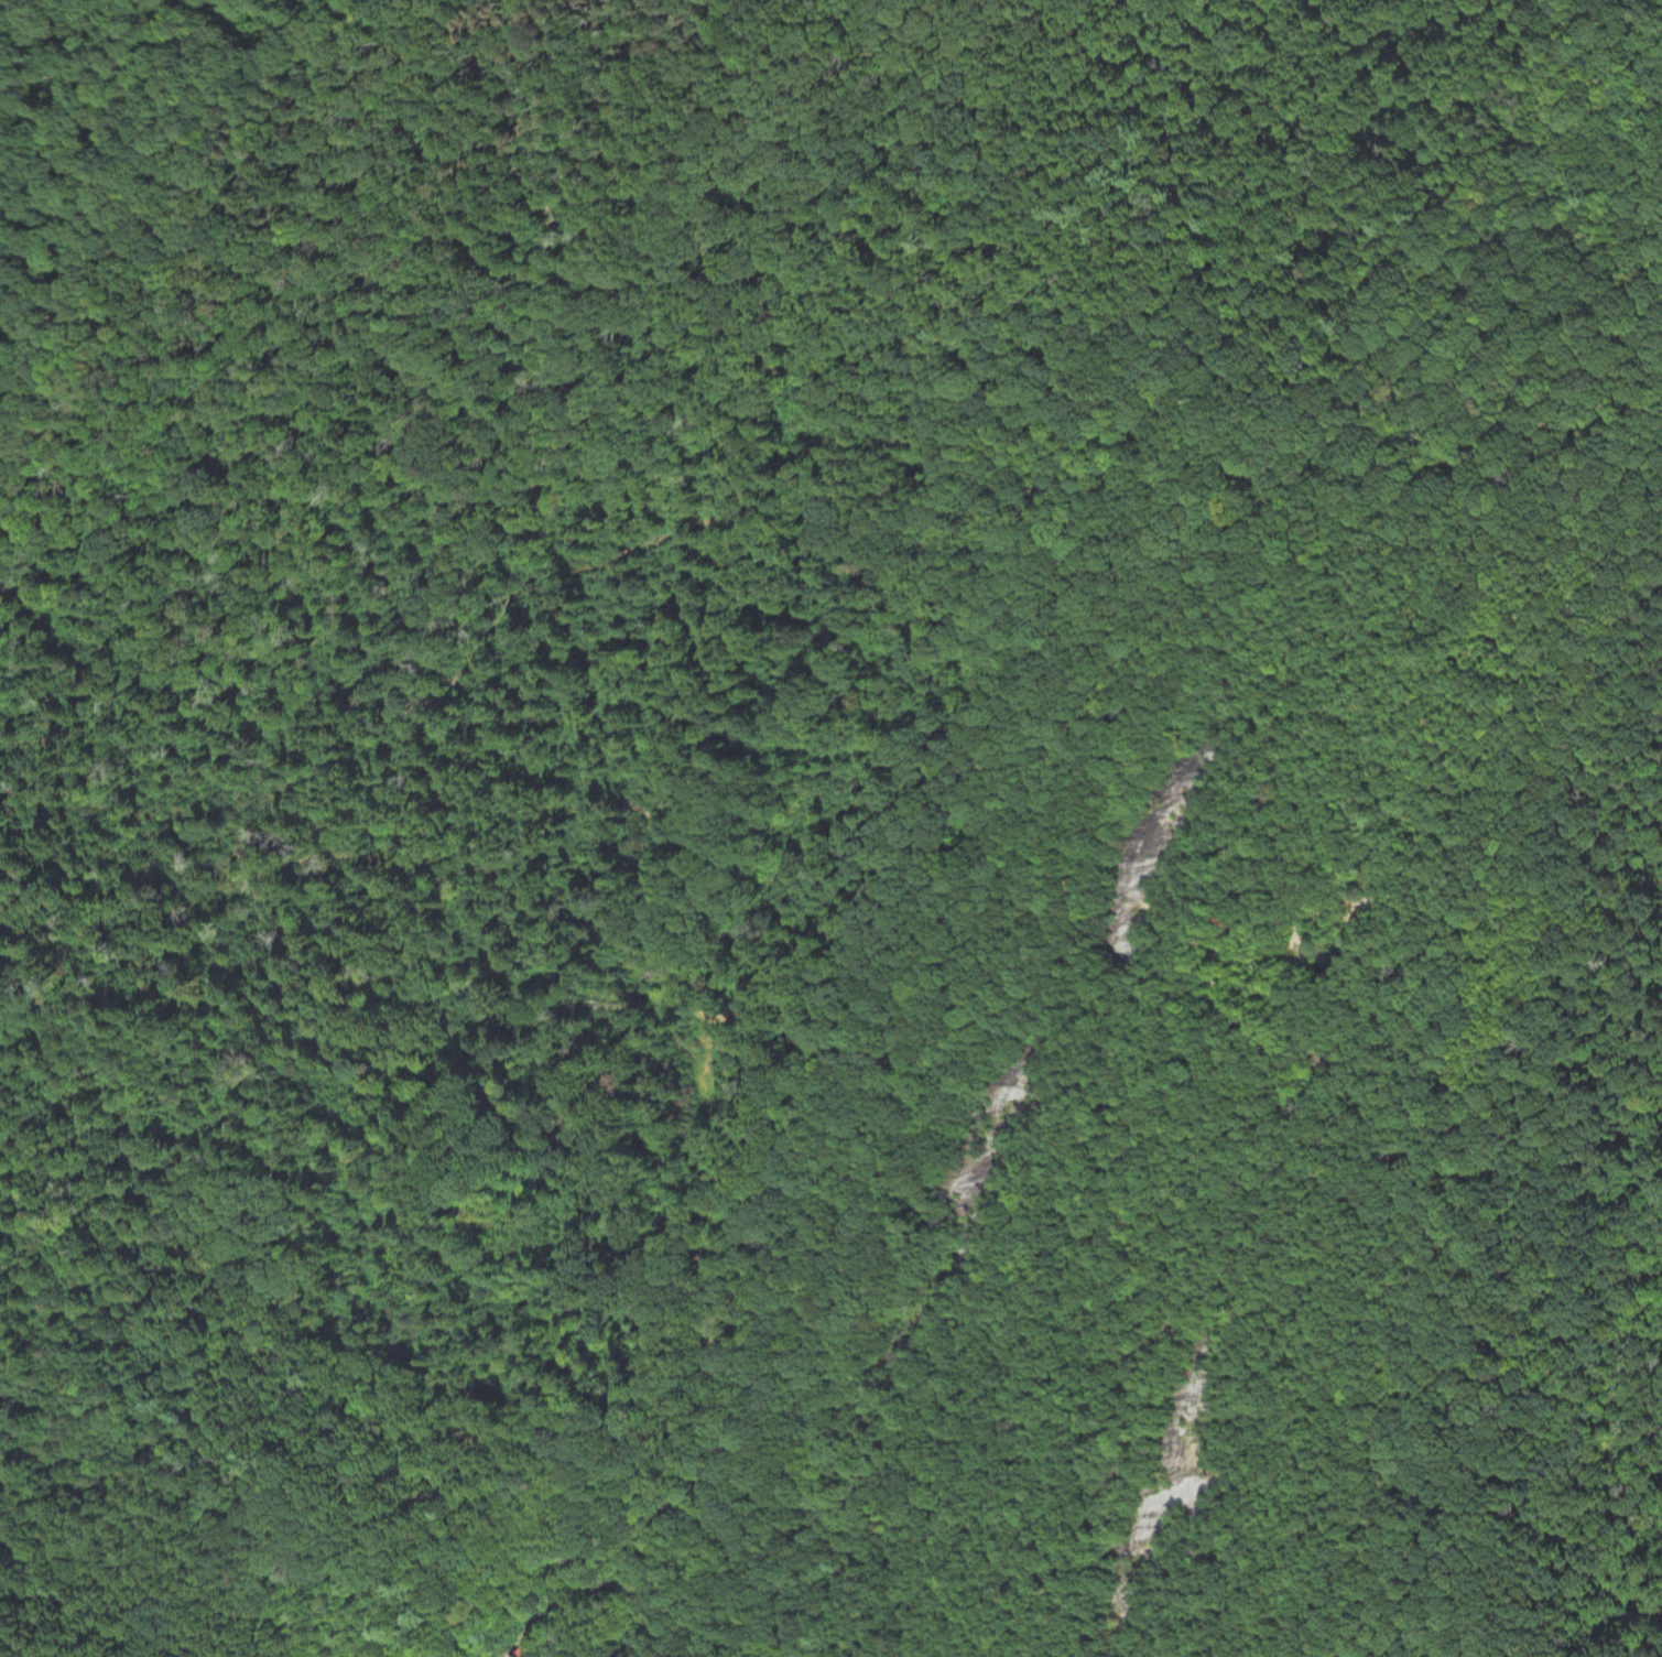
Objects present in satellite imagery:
road: (608, 1582)

